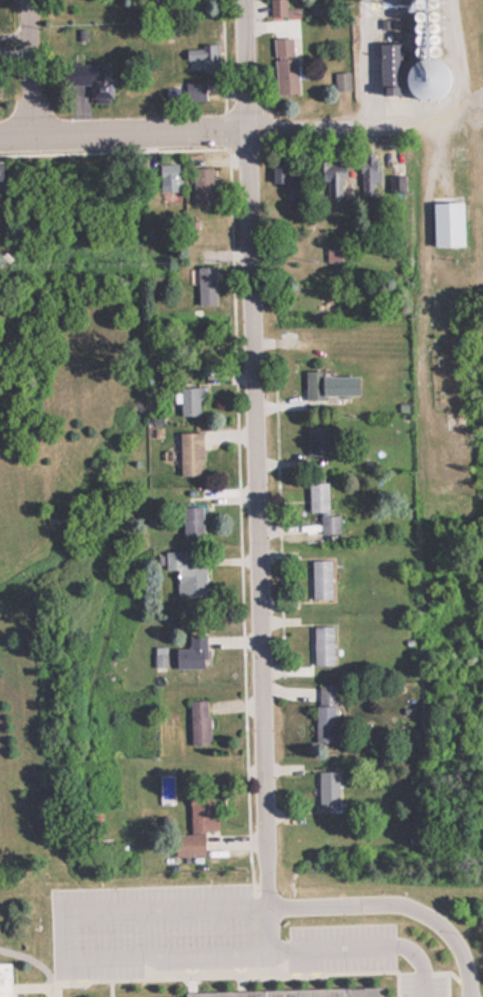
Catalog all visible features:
building: (282, 9)
building: (203, 57)
building: (284, 66)
road: (34, 67)
building: (386, 69)
building: (90, 79)
building: (428, 80)
building: (340, 81)
building: (191, 91)
road: (211, 127)
building: (0, 174)
building: (330, 174)
building: (368, 174)
building: (167, 178)
building: (286, 178)
building: (201, 186)
building: (446, 224)
building: (332, 255)
building: (205, 286)
building: (330, 385)
building: (188, 402)
road: (254, 439)
building: (316, 441)
building: (189, 454)
building: (317, 498)
building: (192, 523)
building: (329, 525)
building: (185, 575)
building: (319, 580)
building: (322, 646)
building: (190, 654)
building: (325, 714)
building: (198, 723)
building: (327, 791)
building: (195, 826)
road: (386, 903)
road: (134, 954)
road: (25, 961)
building: (5, 981)
building: (281, 994)

